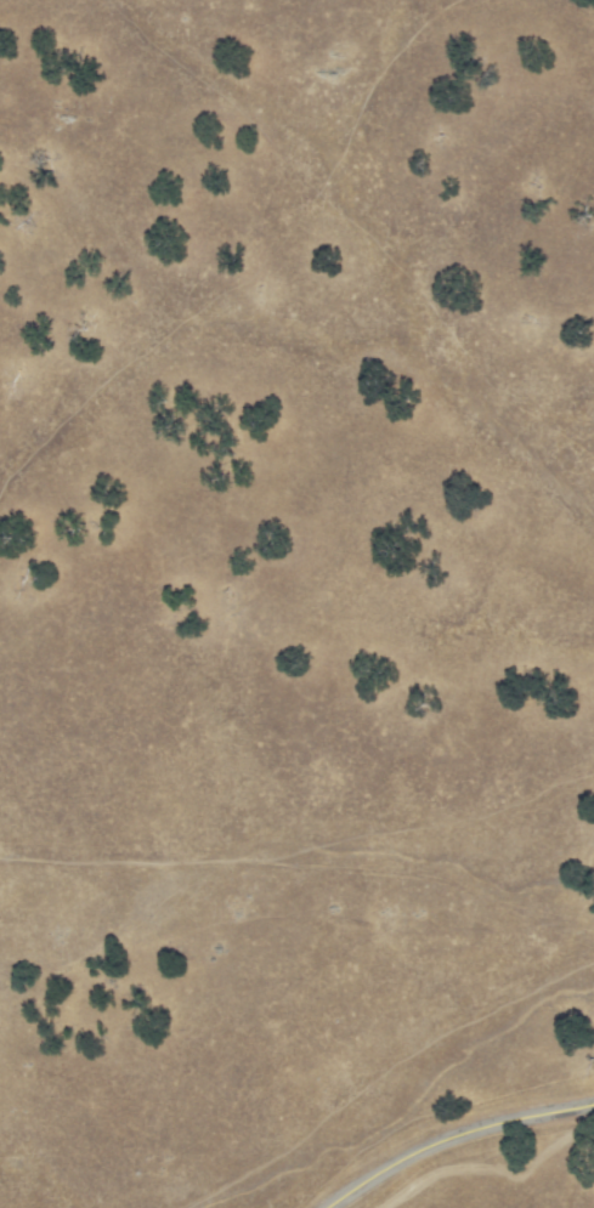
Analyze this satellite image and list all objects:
road: (457, 1141)

